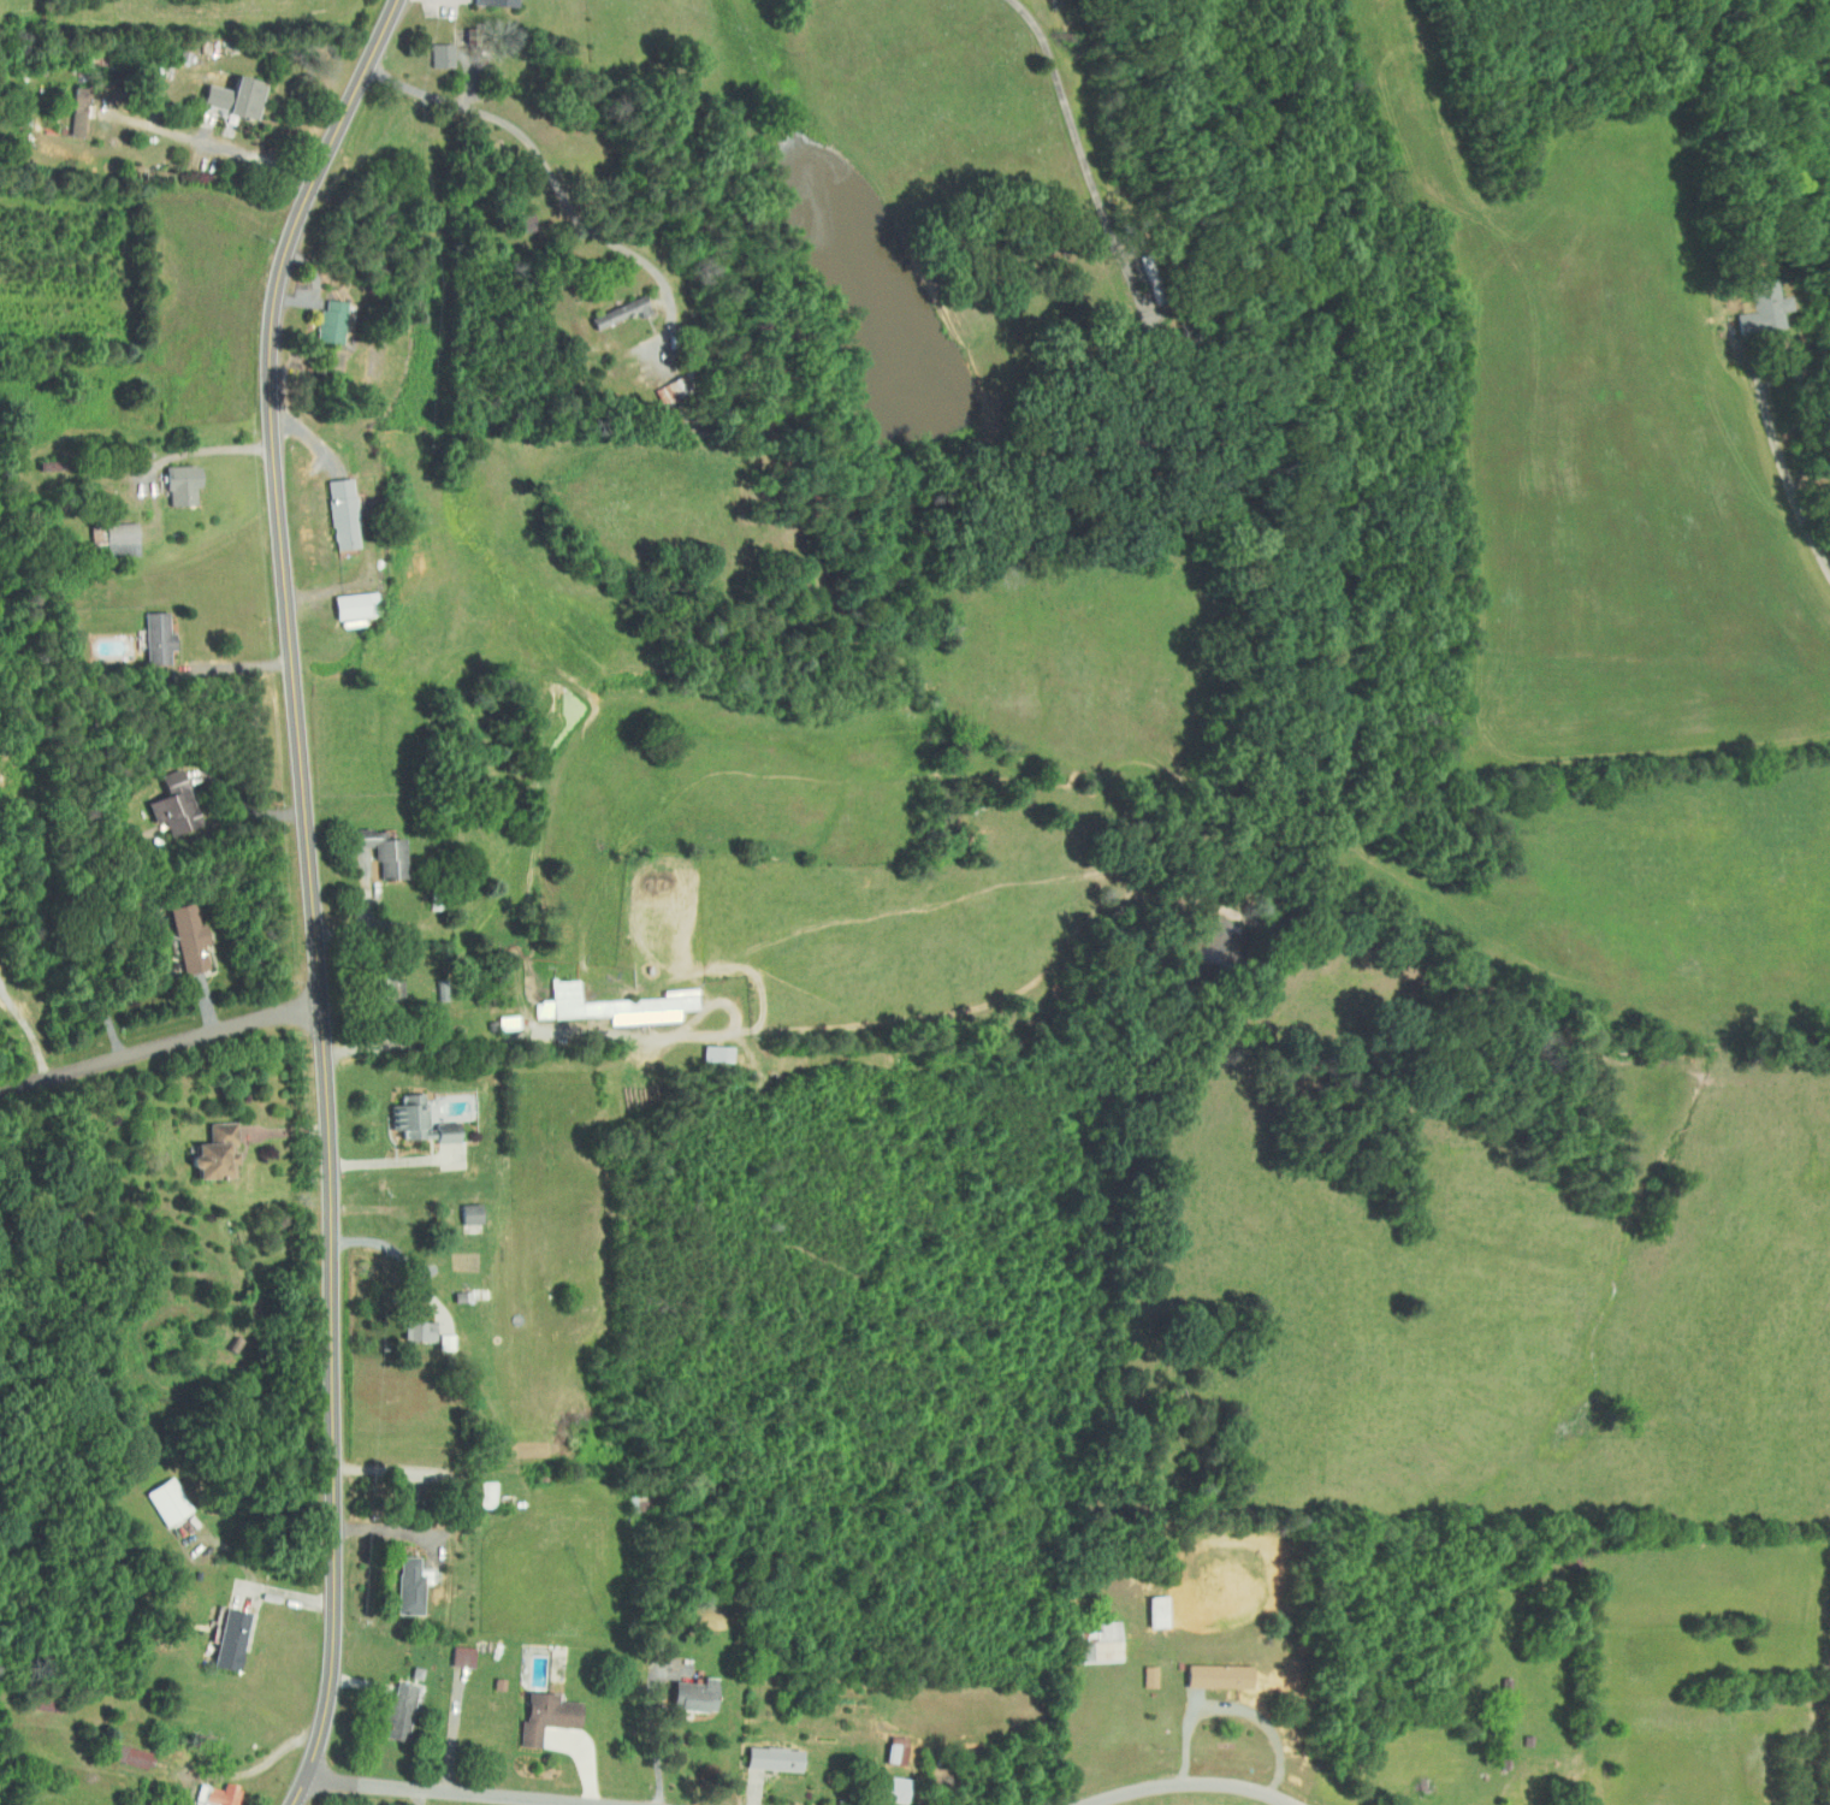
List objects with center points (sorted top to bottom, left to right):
building: (491, 2)
road: (535, 43)
building: (438, 53)
road: (425, 55)
building: (230, 95)
road: (284, 125)
road: (186, 132)
road: (1084, 143)
road: (555, 182)
building: (522, 221)
building: (1757, 306)
building: (603, 309)
road: (309, 315)
building: (327, 320)
road: (205, 448)
road: (1783, 460)
building: (177, 483)
road: (315, 503)
building: (116, 538)
road: (313, 590)
building: (350, 605)
building: (153, 637)
road: (248, 662)
building: (170, 804)
road: (270, 815)
building: (375, 853)
road: (380, 877)
road: (314, 892)
building: (184, 936)
road: (168, 990)
road: (356, 990)
building: (611, 1005)
road: (468, 1036)
road: (162, 1038)
building: (716, 1053)
building: (417, 1120)
building: (209, 1153)
road: (395, 1160)
building: (467, 1213)
road: (401, 1255)
building: (411, 1331)
road: (391, 1470)
building: (485, 1493)
building: (409, 1585)
road: (288, 1598)
building: (1154, 1609)
building: (226, 1640)
building: (1098, 1643)
building: (461, 1655)
building: (1214, 1674)
building: (1148, 1675)
road: (363, 1683)
building: (687, 1693)
road: (1240, 1709)
building: (393, 1710)
building: (543, 1714)
road: (657, 1733)
building: (893, 1748)
building: (122, 1752)
building: (769, 1757)
road: (588, 1770)
road: (1189, 1777)
building: (888, 1787)
building: (215, 1793)
road: (458, 1793)
road: (540, 1803)
building: (1397, 1803)
road: (571, 1804)

